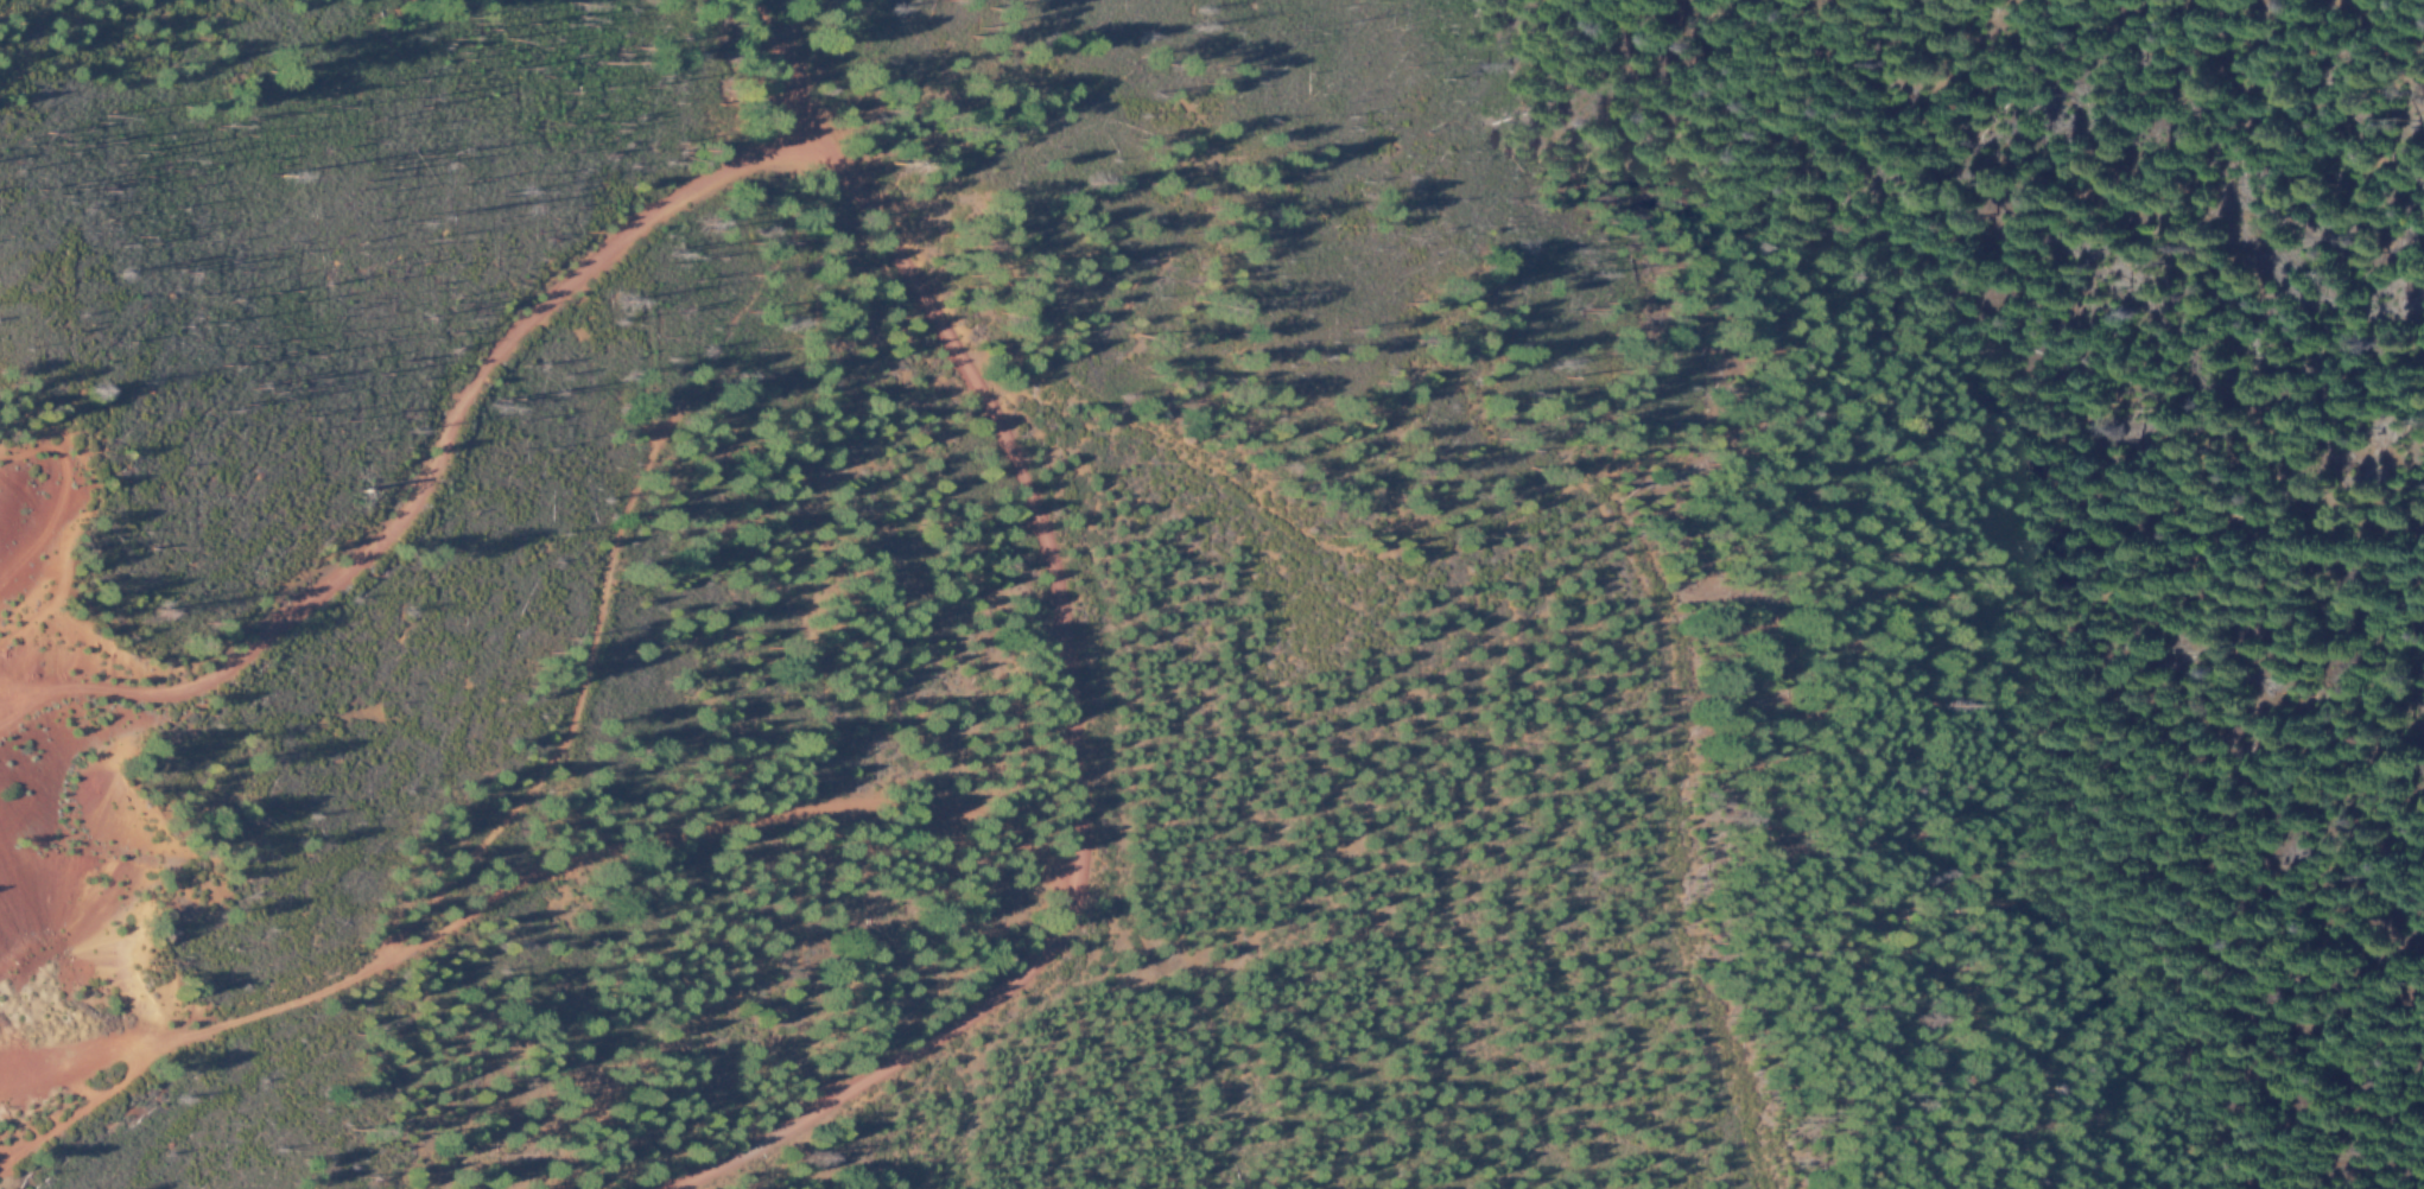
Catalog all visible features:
road: (431, 462)
road: (1061, 665)
road: (519, 890)

